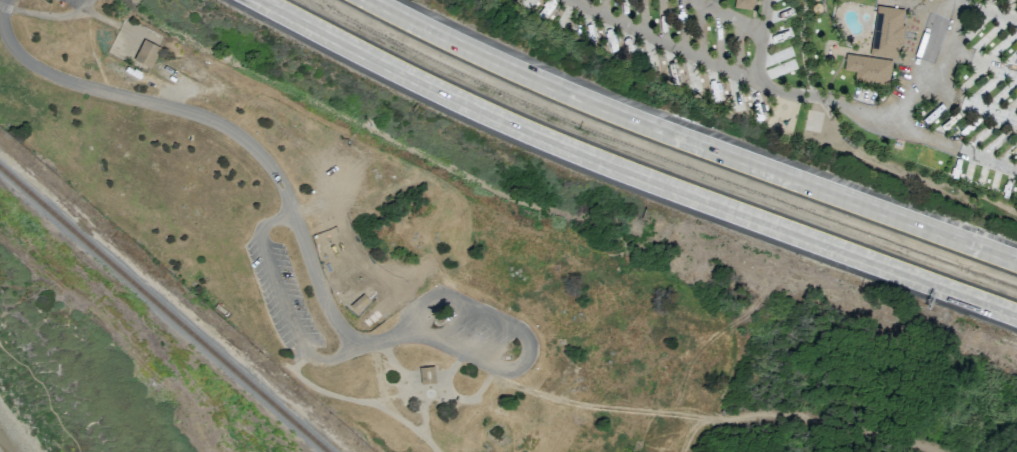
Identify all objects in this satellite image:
building: (744, 4)
road: (47, 16)
road: (731, 16)
building: (886, 32)
building: (928, 38)
road: (764, 40)
building: (146, 53)
building: (868, 68)
road: (793, 94)
road: (218, 123)
road: (690, 140)
road: (952, 147)
road: (630, 169)
park: (397, 279)
parking lot: (287, 296)
road: (288, 300)
railway: (163, 310)
parking lot: (476, 330)
road: (385, 342)
road: (530, 350)
building: (428, 375)
road: (417, 393)
road: (44, 394)
road: (361, 402)
road: (828, 420)

